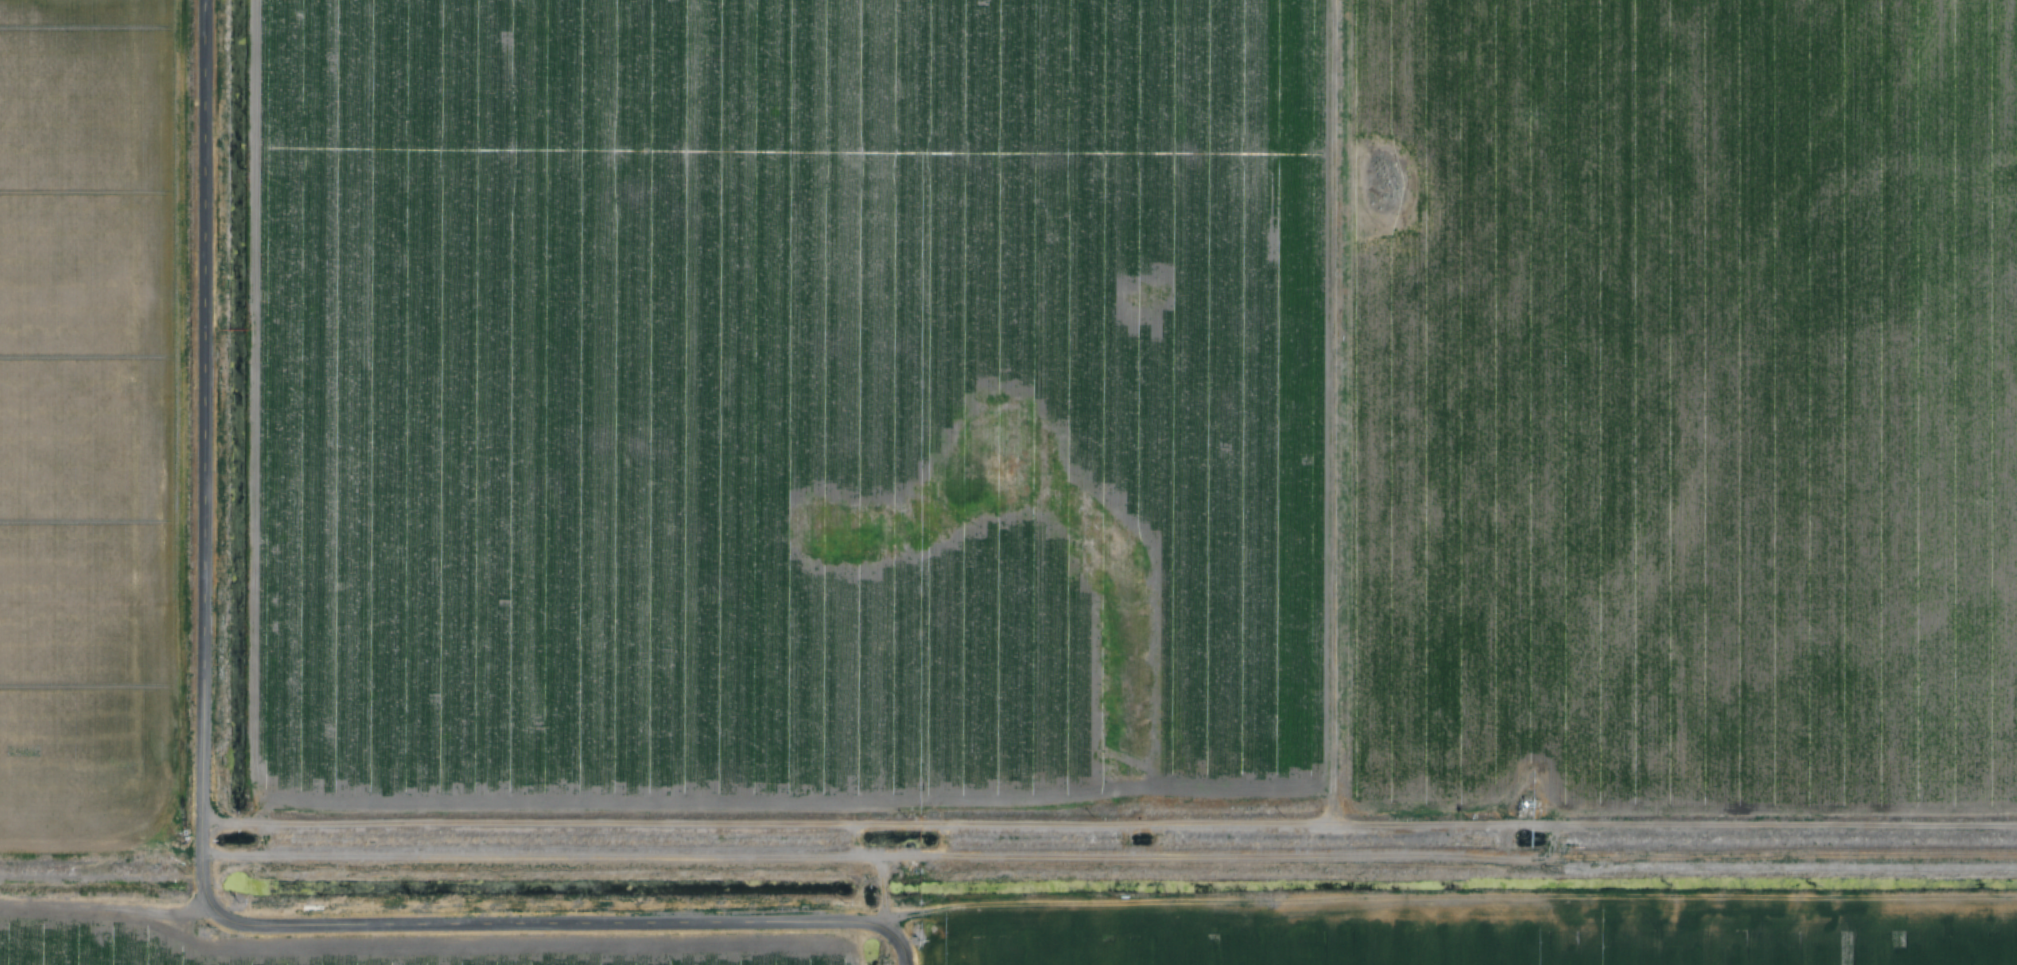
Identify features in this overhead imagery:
crop: (776, 396)
road: (206, 397)
crop: (1690, 403)
crop: (88, 421)
road: (494, 918)
crop: (1475, 932)
road: (898, 939)
crop: (373, 945)

